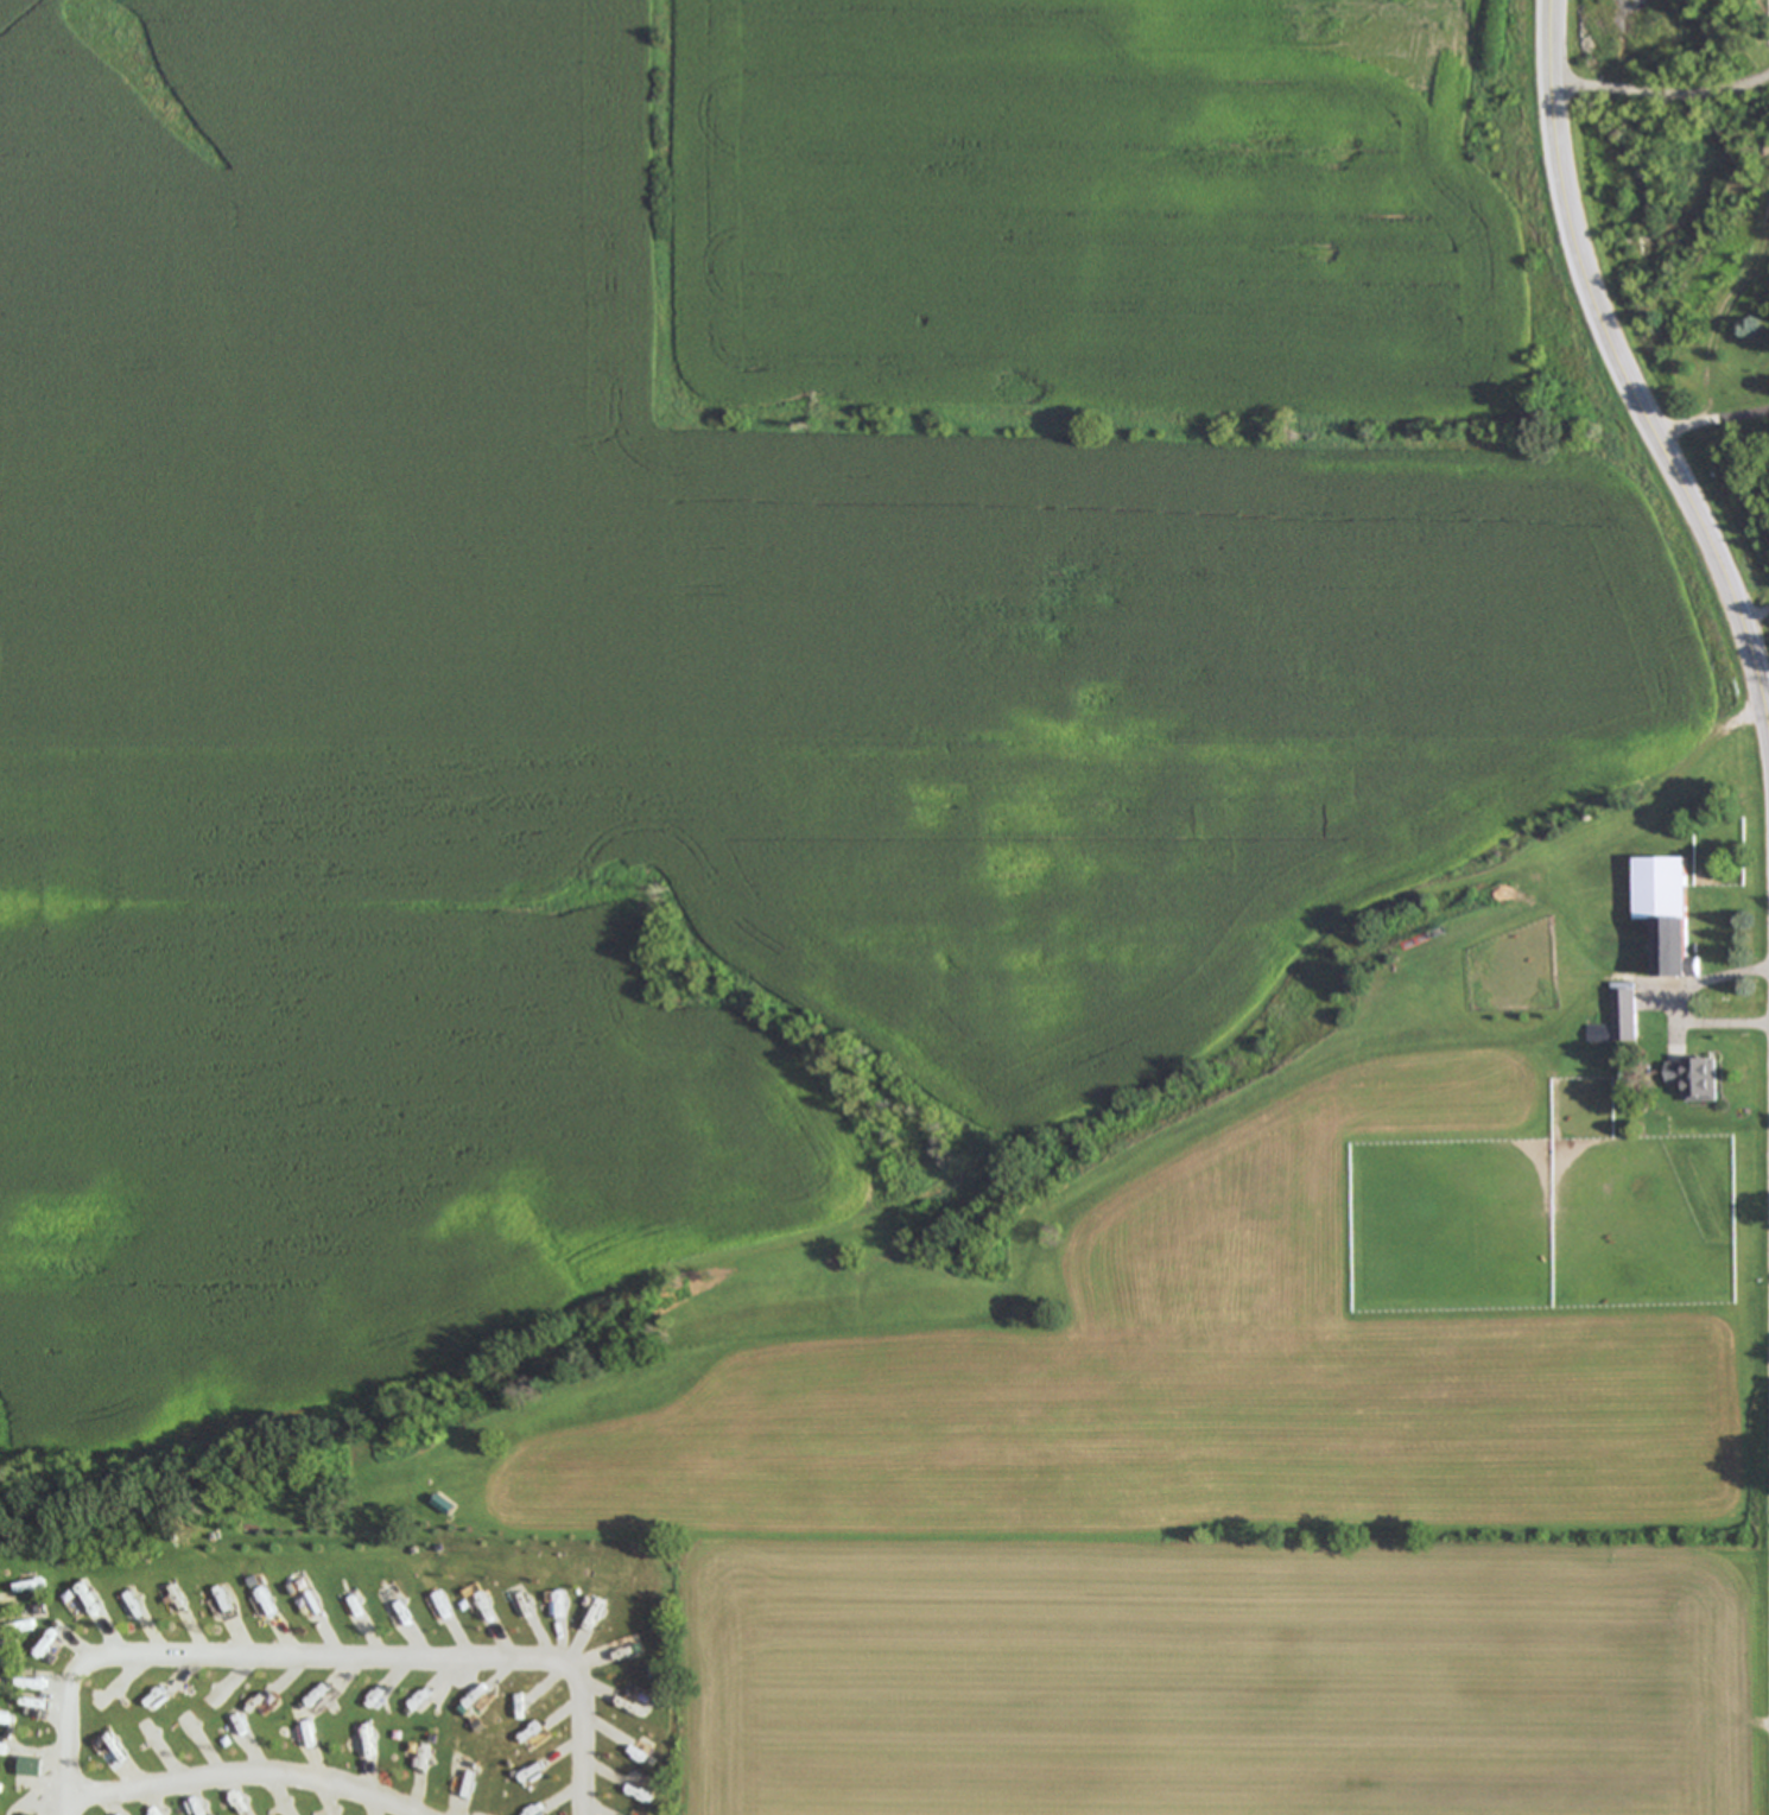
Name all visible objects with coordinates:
road: (1661, 89)
road: (1619, 383)
road: (1707, 424)
road: (1754, 618)
building: (1661, 908)
road: (1711, 978)
building: (1617, 1016)
road: (1711, 1016)
building: (1693, 1075)
building: (28, 1589)
road: (323, 1652)
road: (64, 1738)
road: (581, 1739)
road: (245, 1773)

